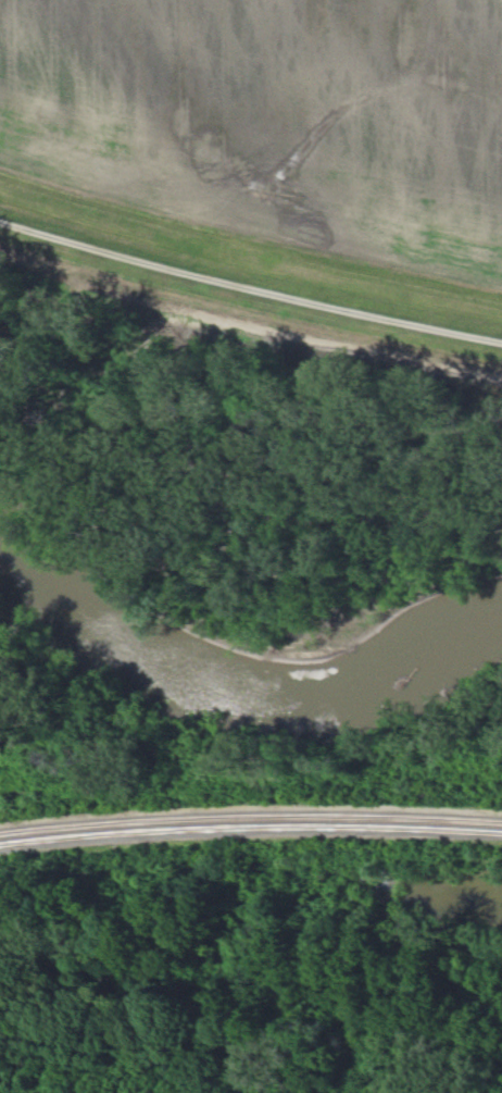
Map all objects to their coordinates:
crop: (273, 117)
road: (249, 284)
river: (238, 688)
railway: (250, 811)
railway: (250, 822)

